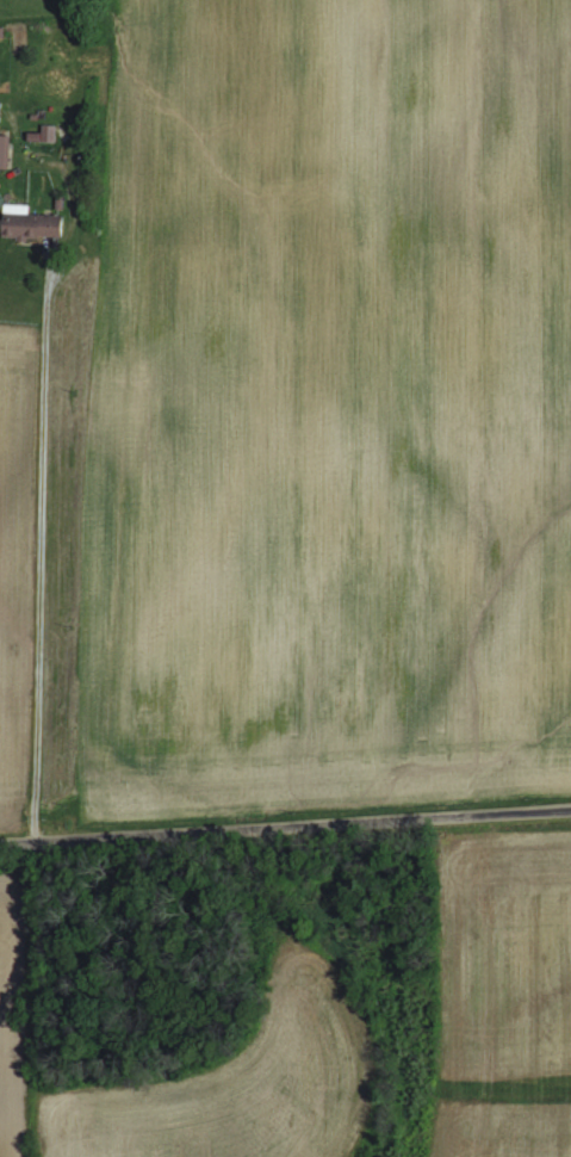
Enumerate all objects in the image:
building: (4, 151)
building: (27, 223)
road: (49, 546)
road: (285, 823)

